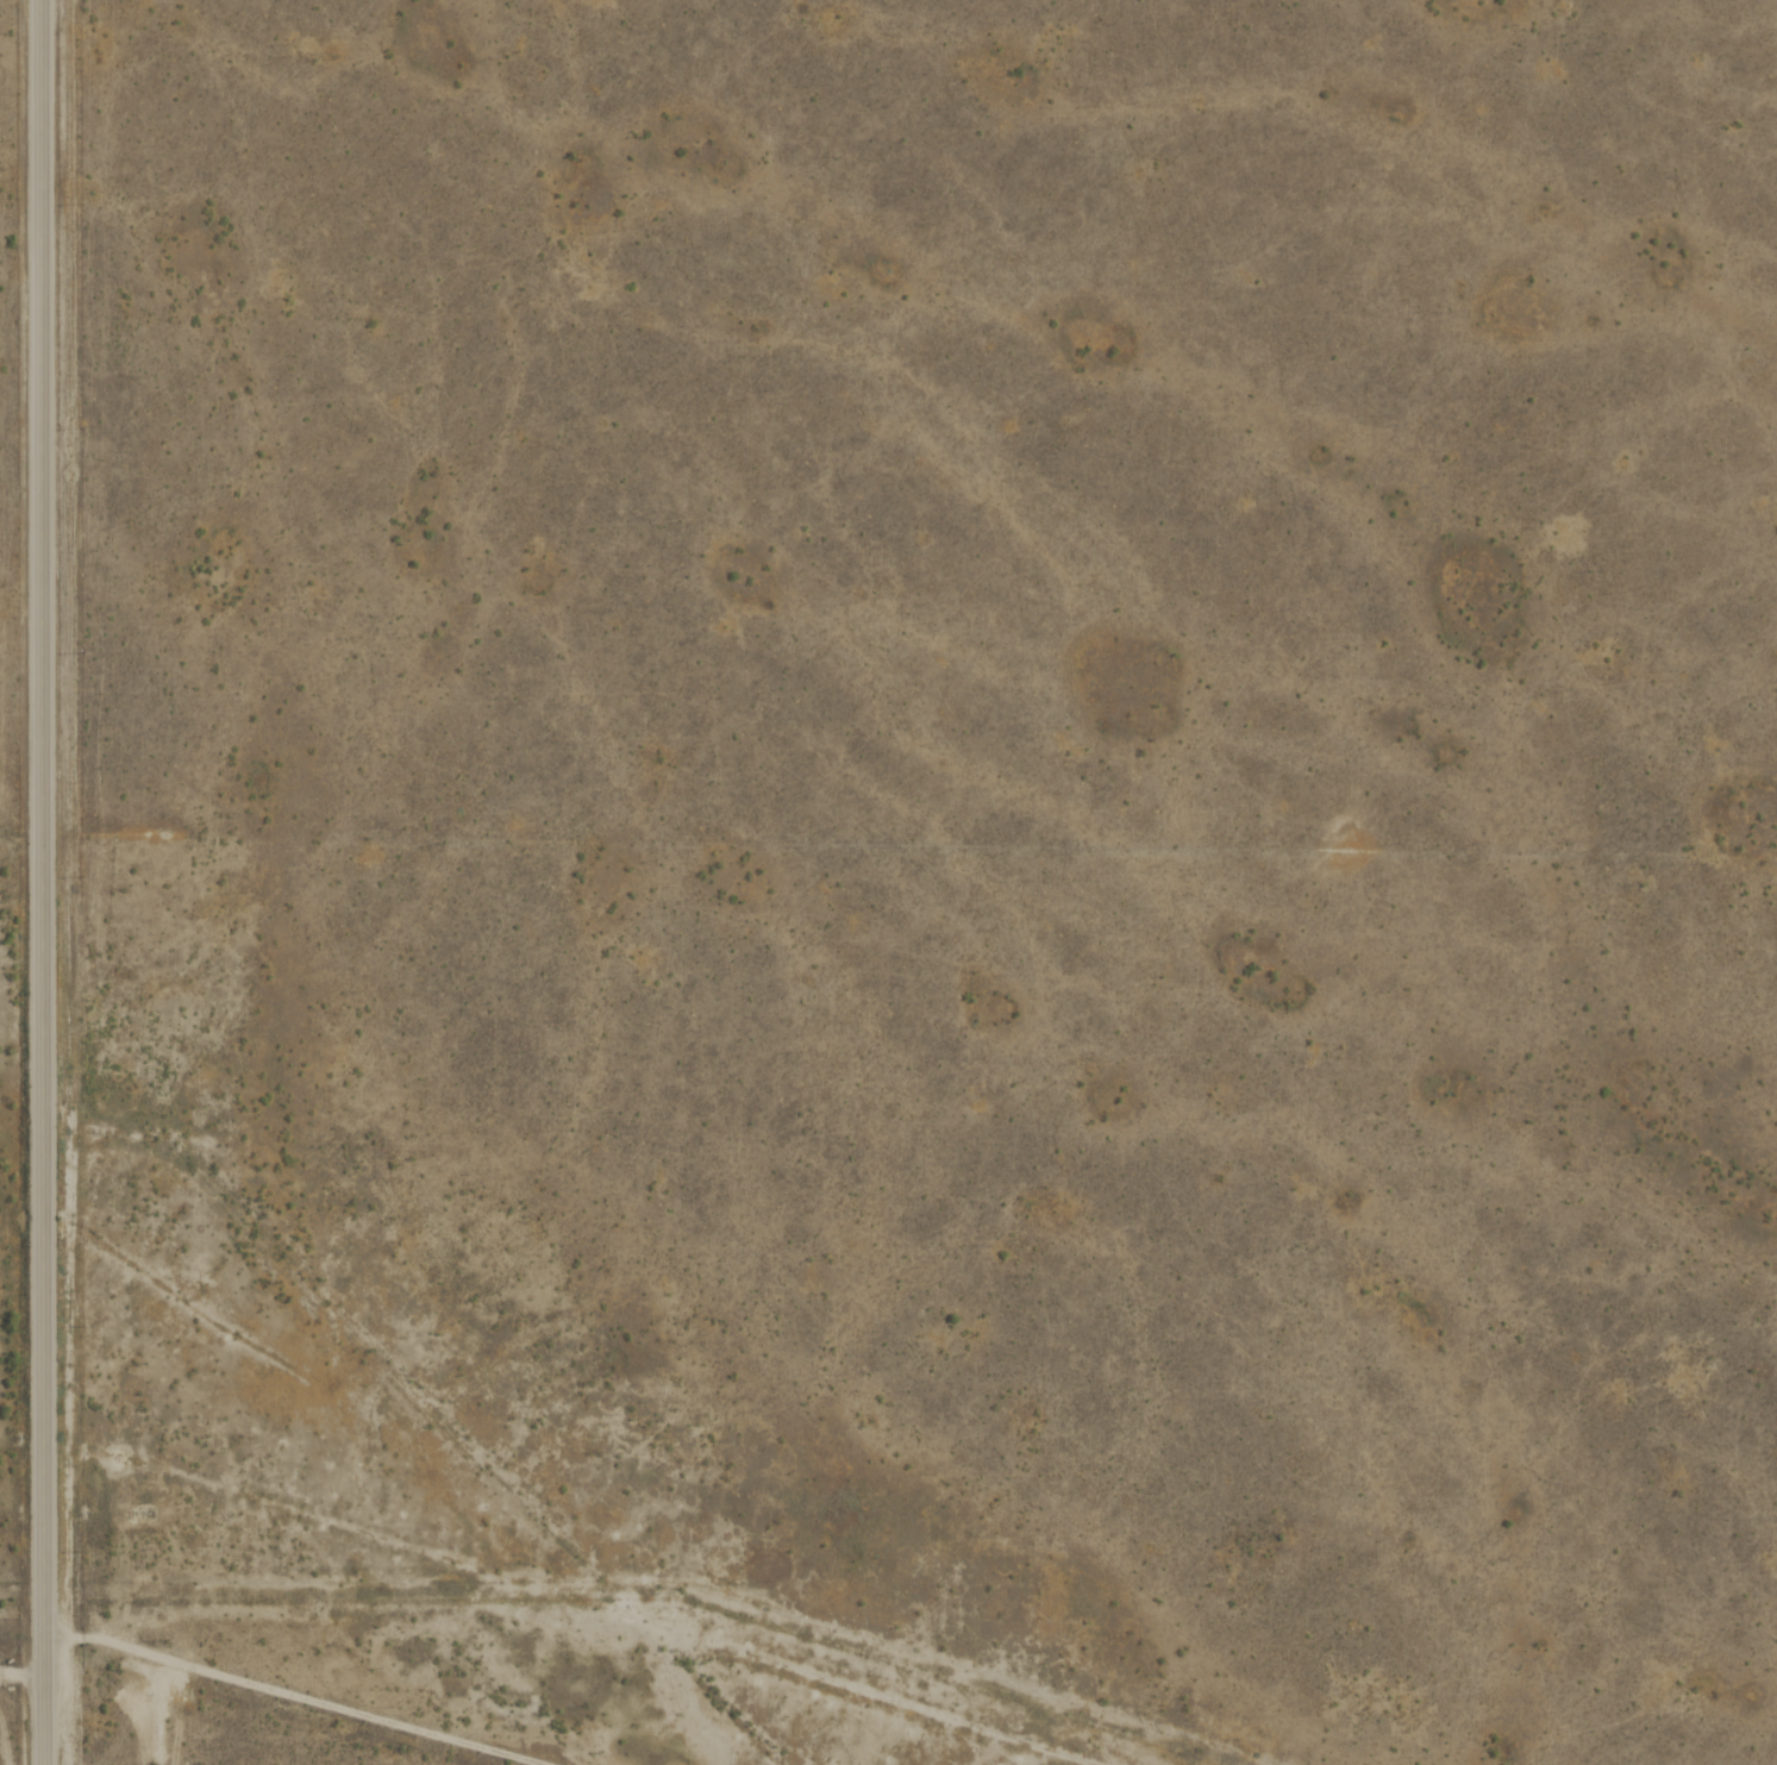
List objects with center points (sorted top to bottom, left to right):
road: (45, 882)
road: (234, 1715)

